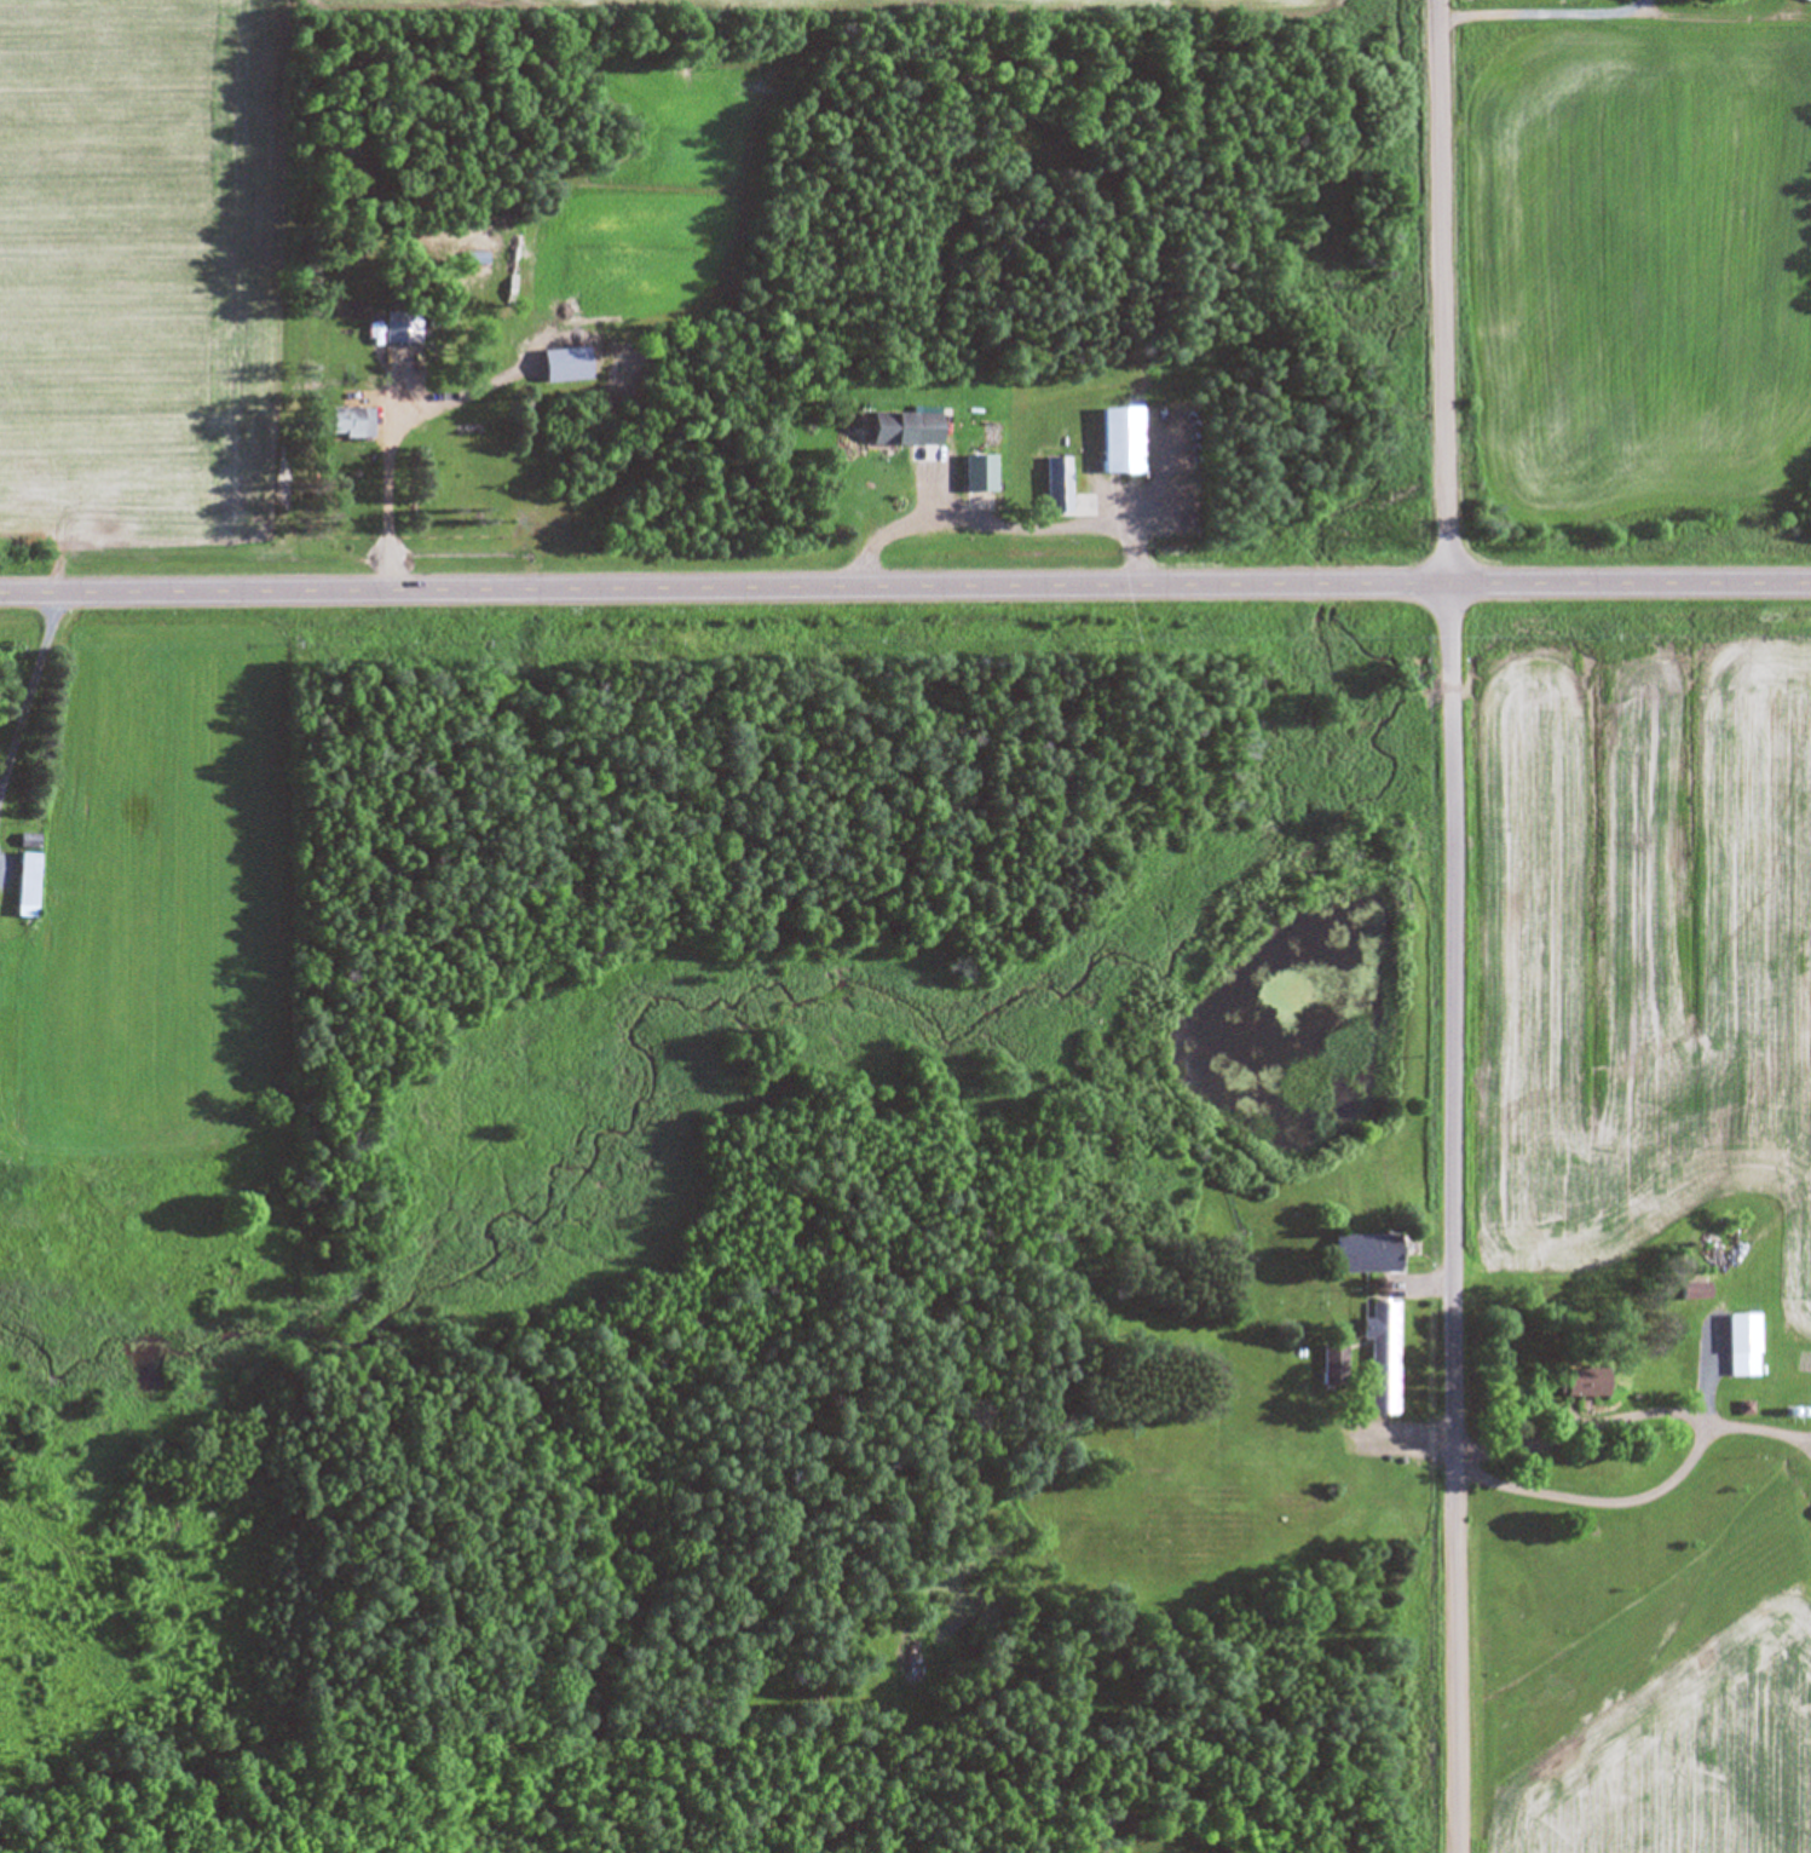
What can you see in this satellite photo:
building: (1807, 0)
building: (340, 425)
building: (899, 430)
building: (1113, 443)
building: (973, 476)
building: (1054, 491)
road: (905, 592)
building: (23, 887)
road: (1442, 926)
building: (1357, 1255)
building: (1684, 1293)
building: (1738, 1351)
building: (1378, 1359)
building: (1331, 1365)
building: (1242, 1406)

